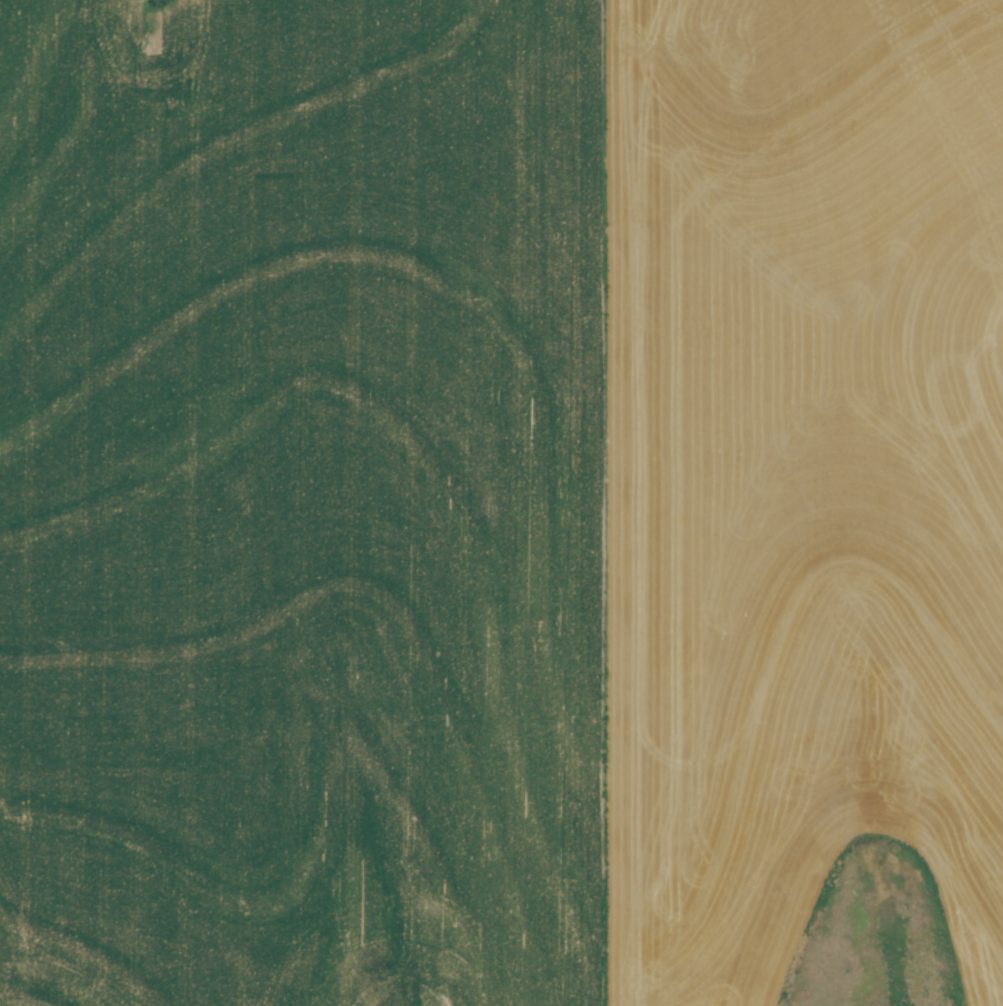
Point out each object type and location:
crop: (802, 476)

